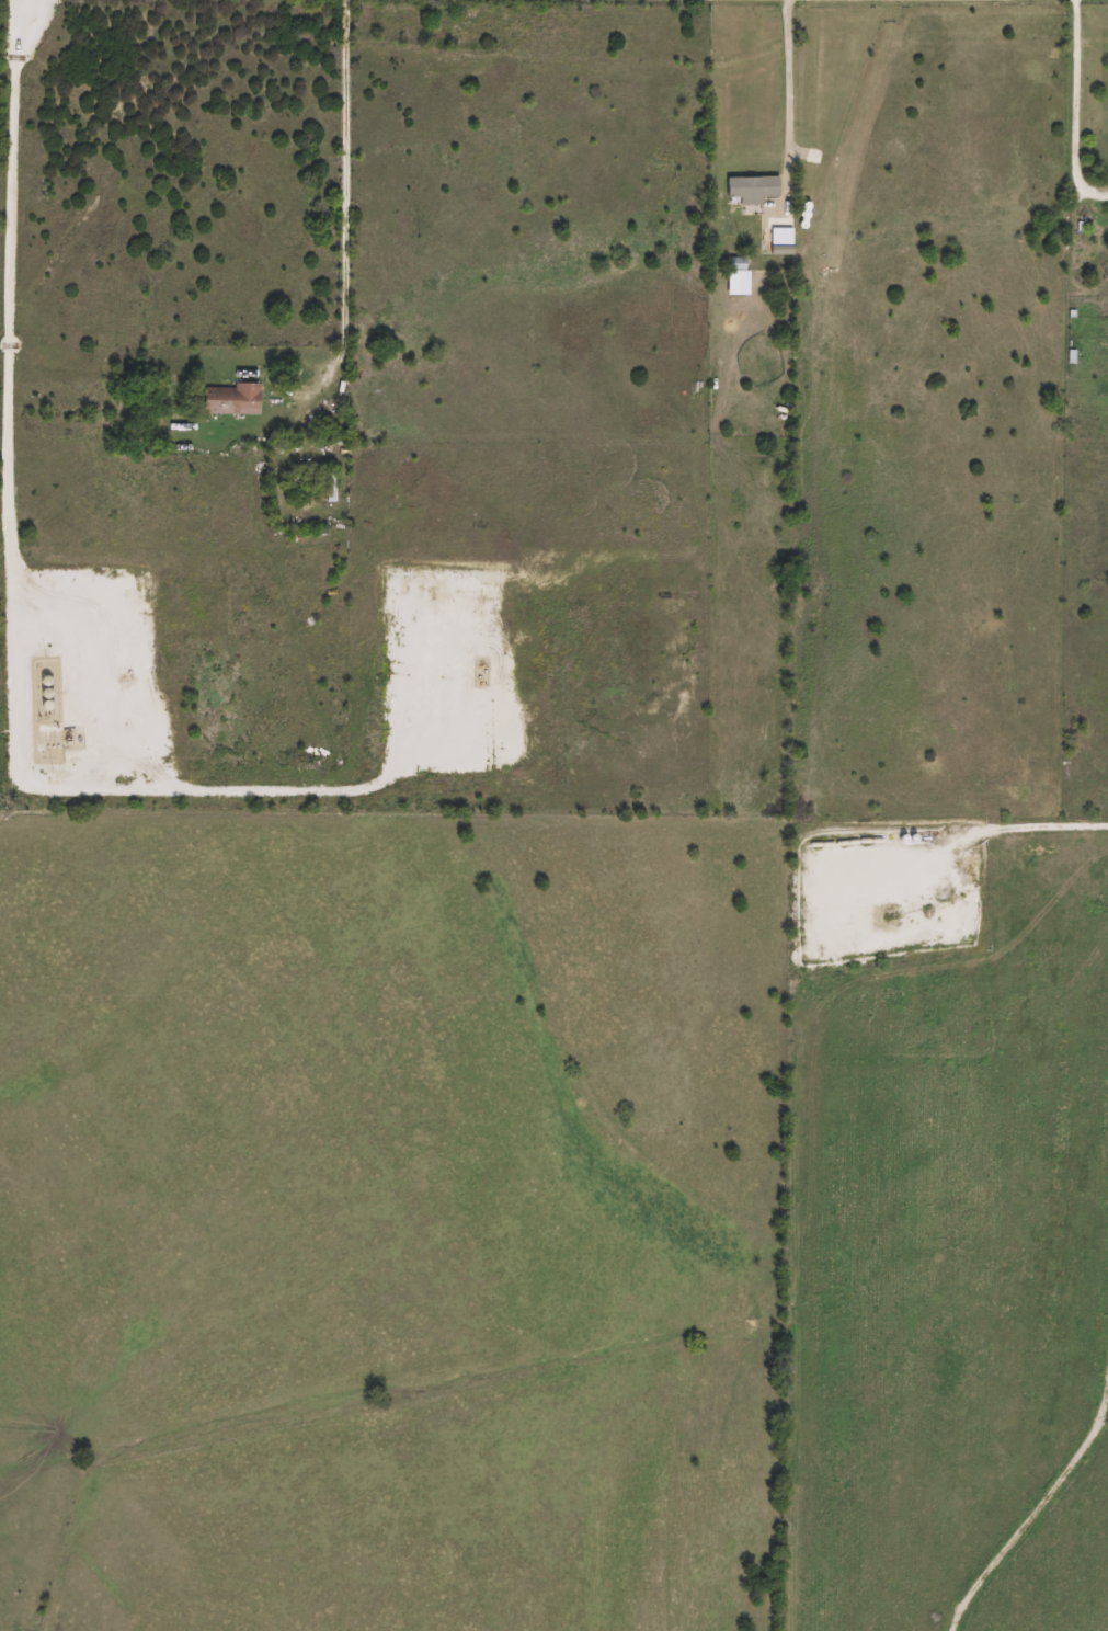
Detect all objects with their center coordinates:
road: (788, 81)
road: (1076, 107)
building: (755, 186)
road: (346, 212)
building: (740, 263)
building: (235, 399)
building: (331, 486)
road: (1014, 826)

